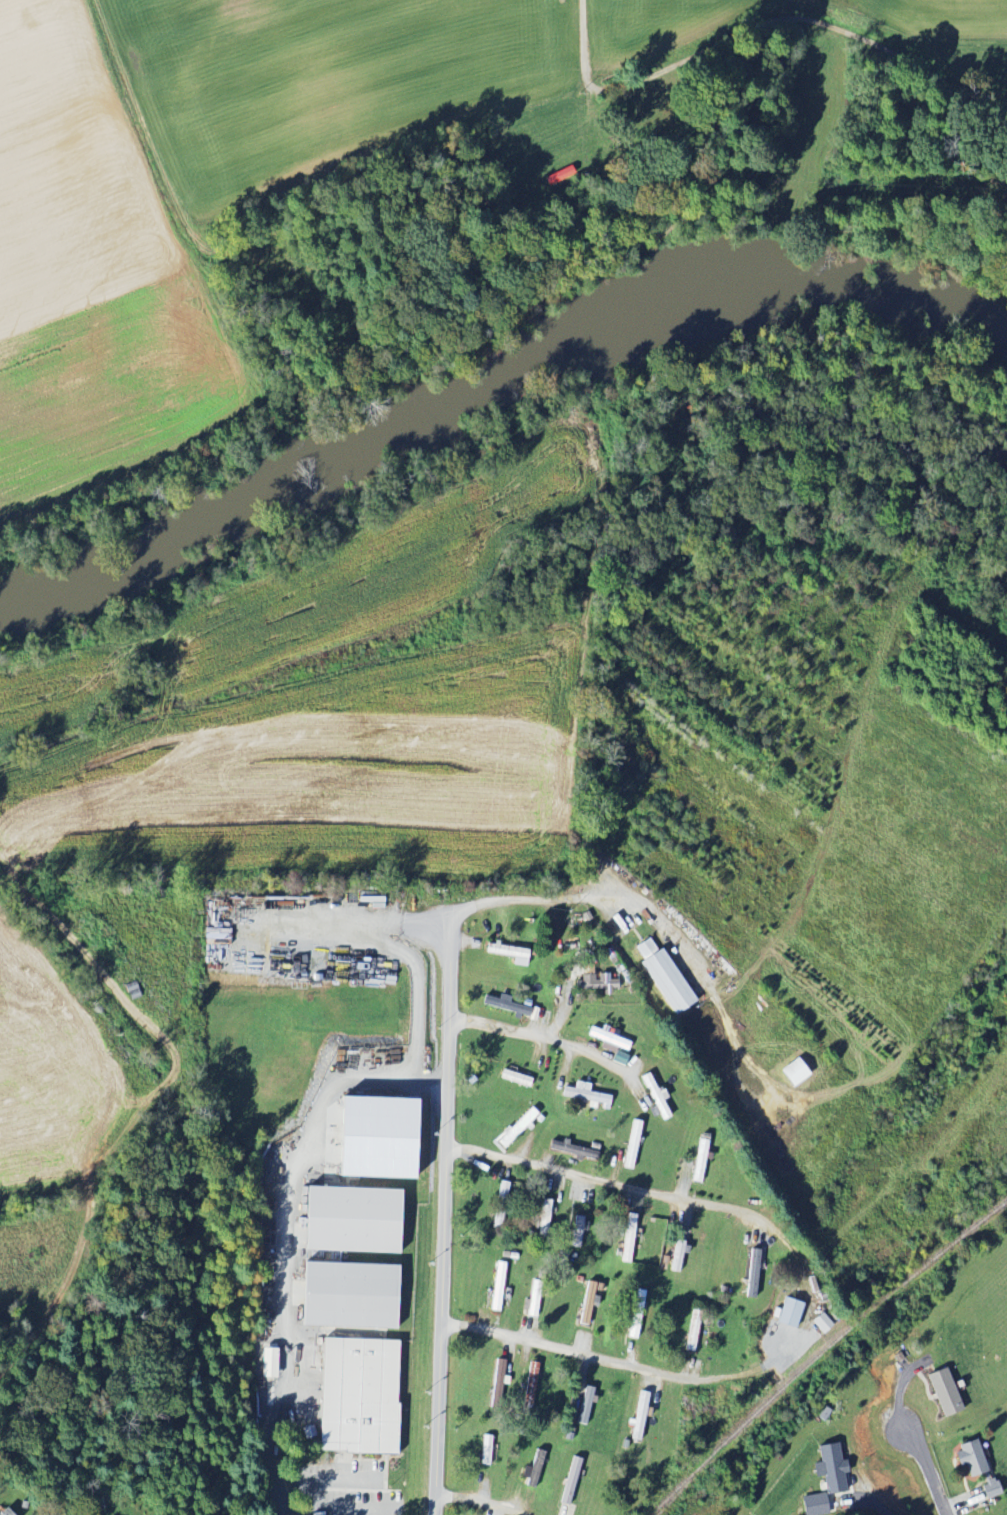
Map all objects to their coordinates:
road: (808, 18)
road: (583, 42)
river: (487, 376)
road: (415, 922)
building: (508, 953)
building: (664, 977)
building: (593, 985)
road: (415, 993)
road: (543, 1037)
building: (608, 1041)
building: (792, 1073)
building: (586, 1096)
building: (655, 1096)
road: (450, 1123)
building: (516, 1128)
building: (373, 1138)
building: (631, 1145)
building: (570, 1151)
road: (295, 1175)
road: (606, 1181)
building: (544, 1217)
building: (350, 1220)
building: (577, 1232)
building: (629, 1237)
building: (751, 1274)
building: (497, 1287)
building: (347, 1296)
building: (531, 1305)
building: (587, 1305)
building: (635, 1314)
building: (788, 1314)
building: (821, 1323)
road: (804, 1329)
building: (692, 1330)
road: (568, 1350)
railway: (824, 1351)
building: (267, 1363)
building: (498, 1378)
road: (287, 1382)
building: (529, 1384)
building: (942, 1392)
building: (355, 1397)
building: (585, 1406)
building: (639, 1417)
road: (265, 1444)
building: (485, 1451)
building: (968, 1458)
road: (929, 1468)
building: (829, 1469)
building: (989, 1489)
road: (480, 1503)
building: (813, 1505)
road: (877, 1505)
building: (3, 1512)

